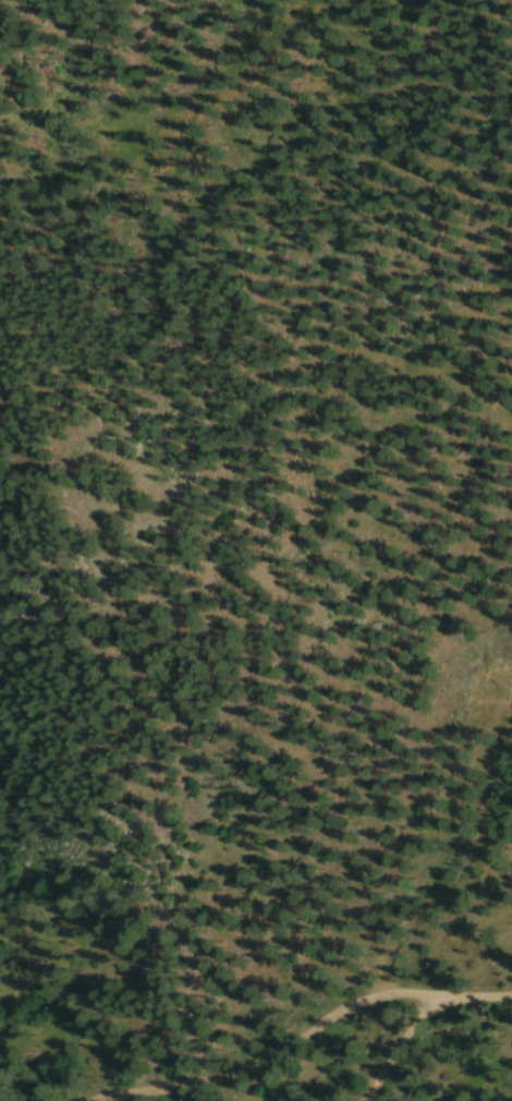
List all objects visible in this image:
road: (486, 1005)
road: (406, 1045)
road: (303, 1049)

